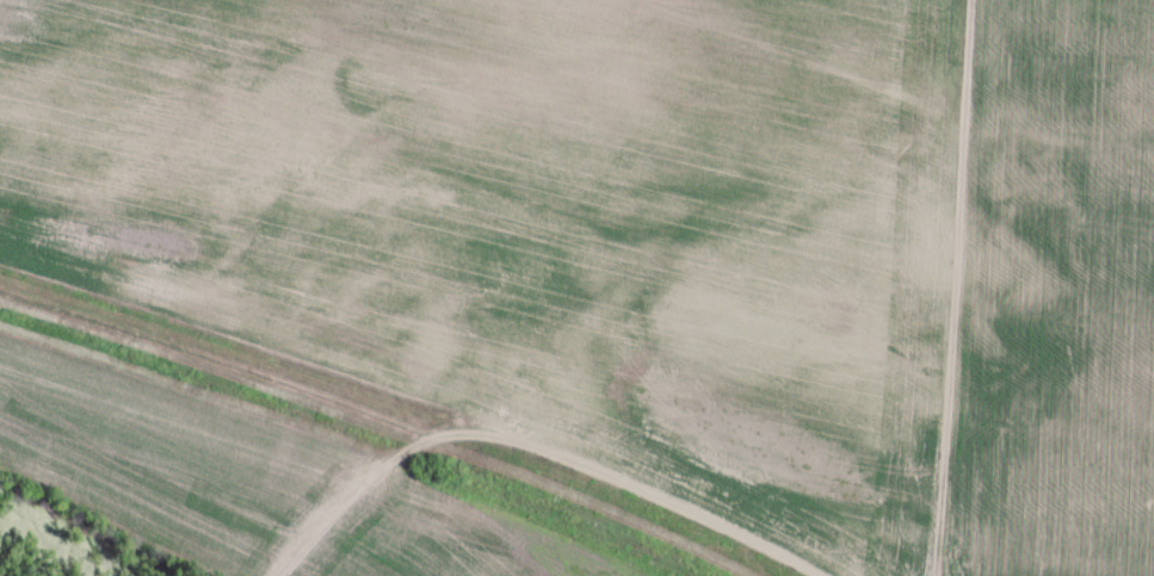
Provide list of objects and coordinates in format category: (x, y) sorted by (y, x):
road: (388, 420)
road: (356, 504)

